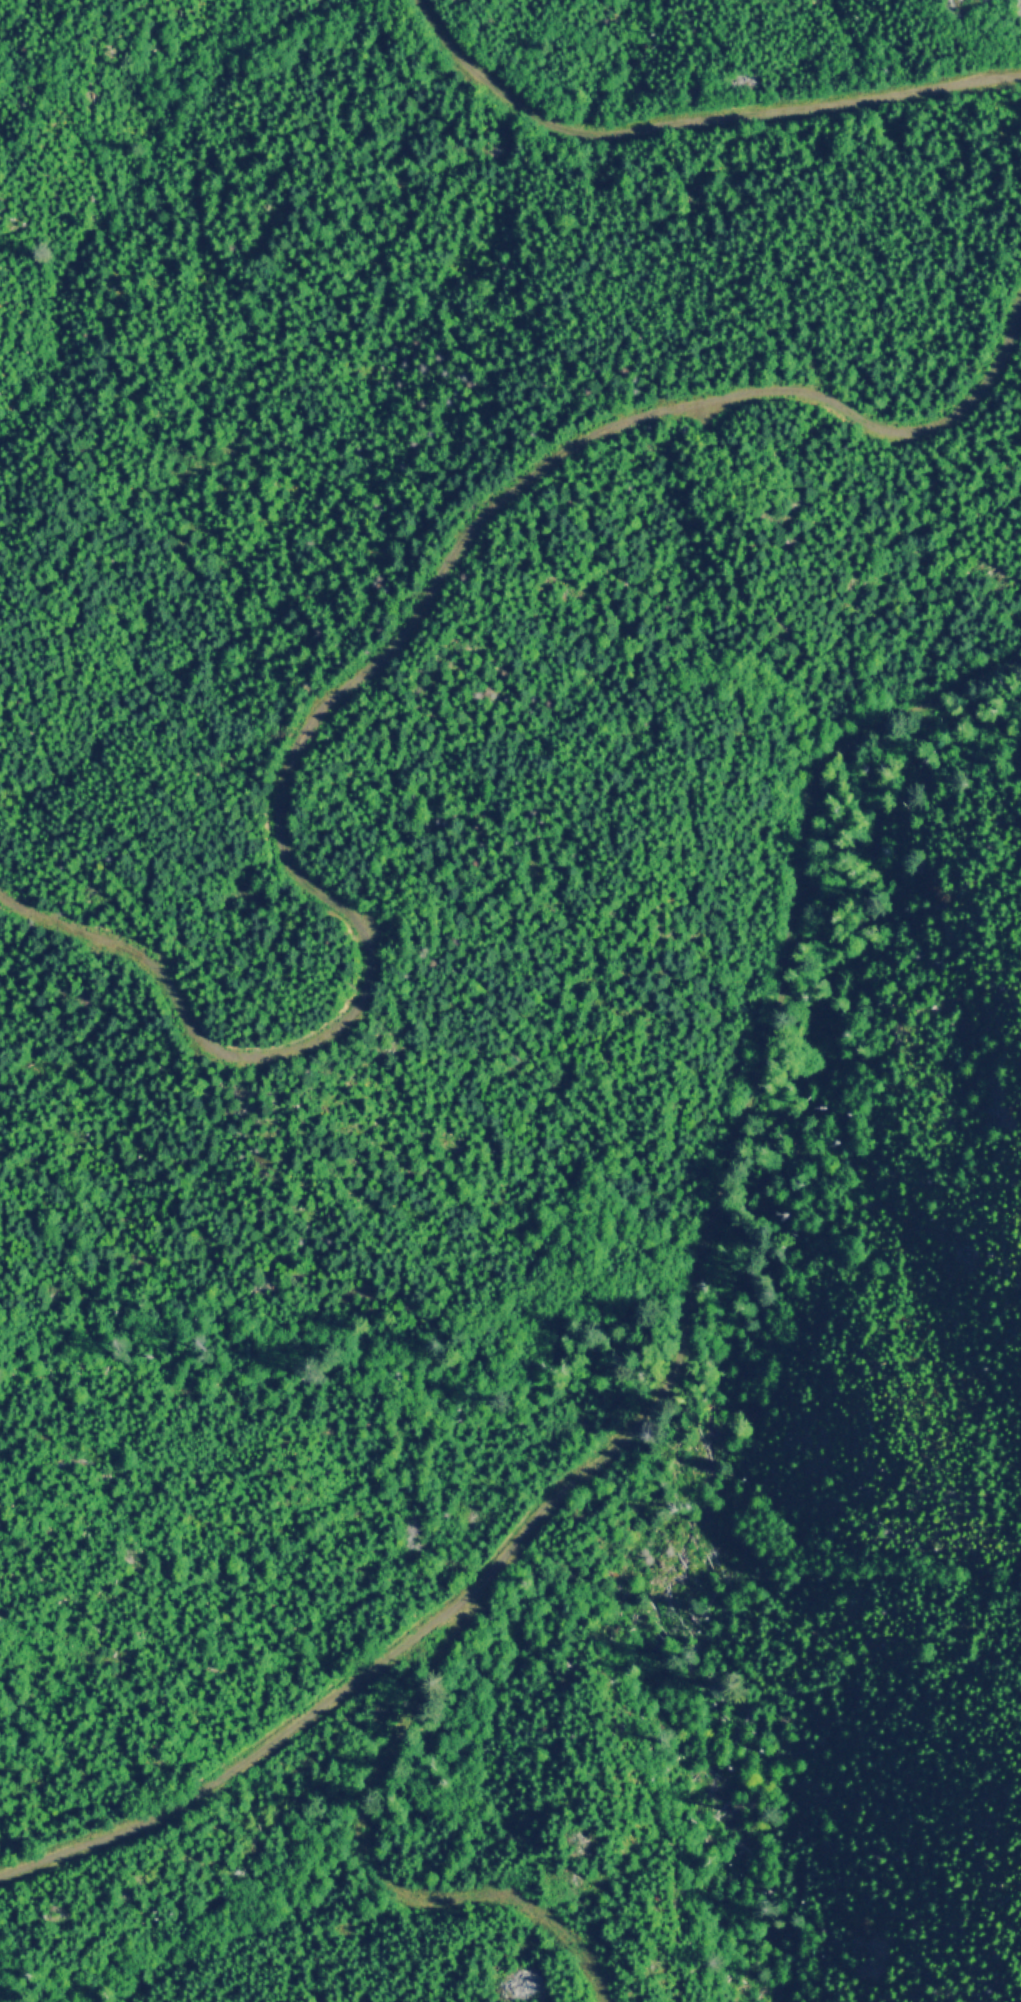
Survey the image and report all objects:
road: (692, 119)
road: (365, 670)
road: (743, 1111)
road: (243, 1762)
road: (371, 1871)

